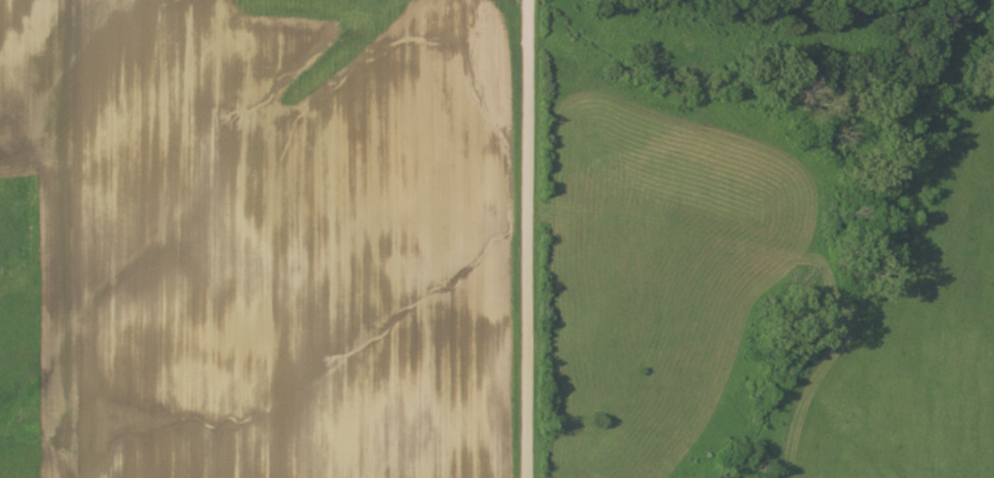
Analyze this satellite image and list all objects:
road: (523, 239)

